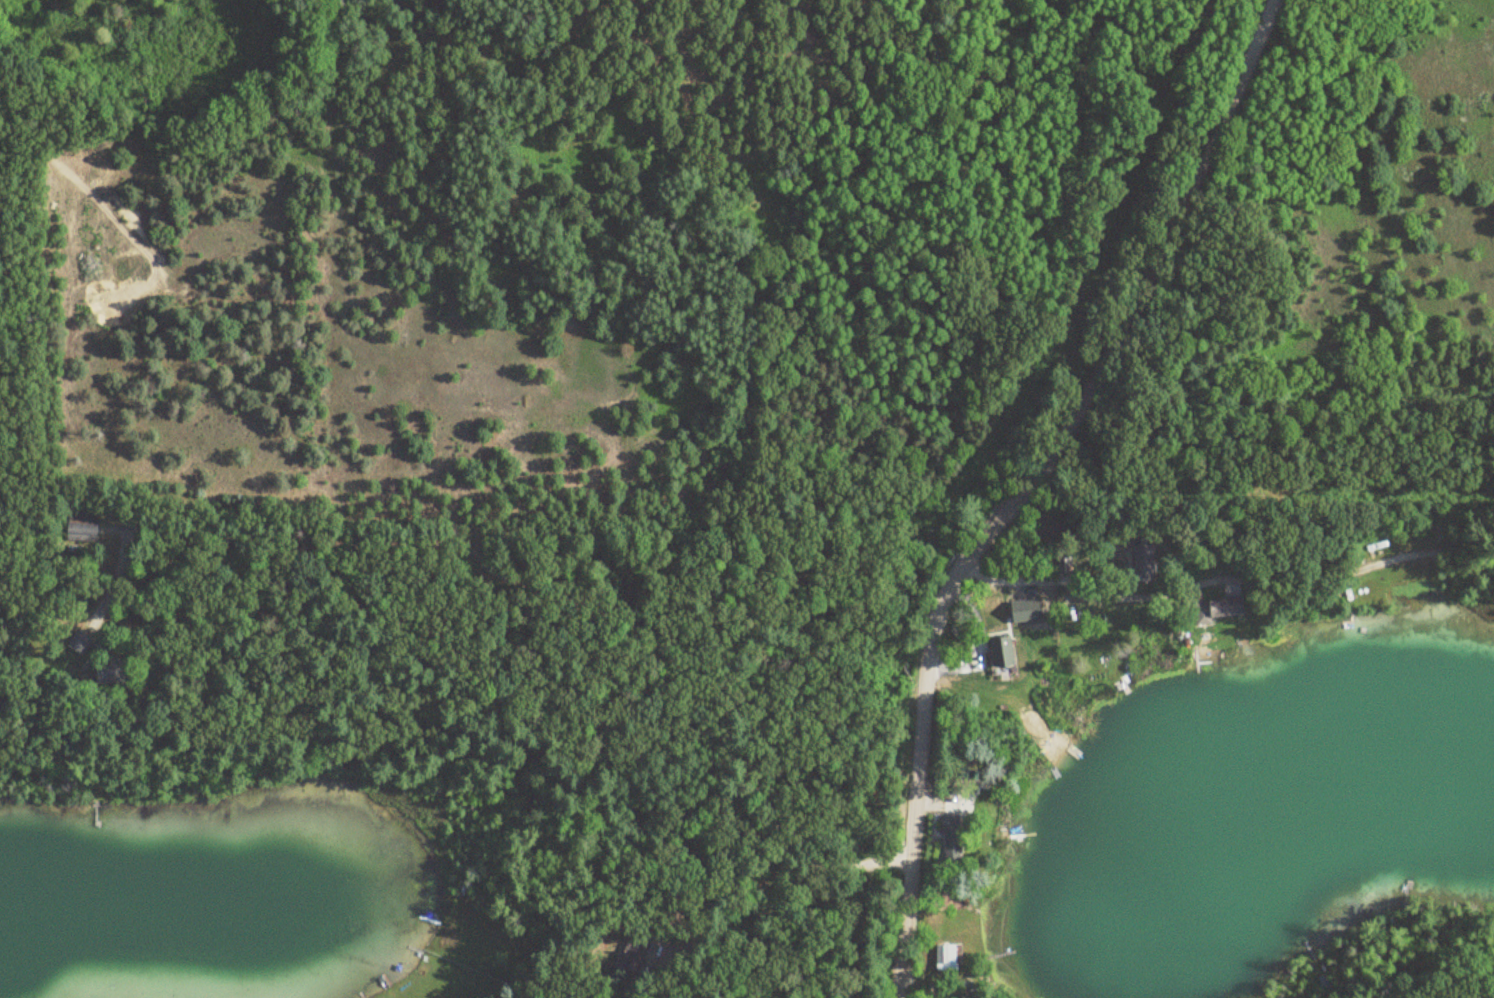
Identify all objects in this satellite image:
road: (1027, 481)
road: (1265, 484)
building: (79, 531)
building: (1142, 561)
road: (1227, 585)
road: (588, 600)
building: (1217, 610)
building: (1024, 612)
building: (77, 642)
building: (999, 653)
building: (111, 670)
building: (950, 837)
road: (740, 887)
building: (944, 956)
building: (626, 962)

